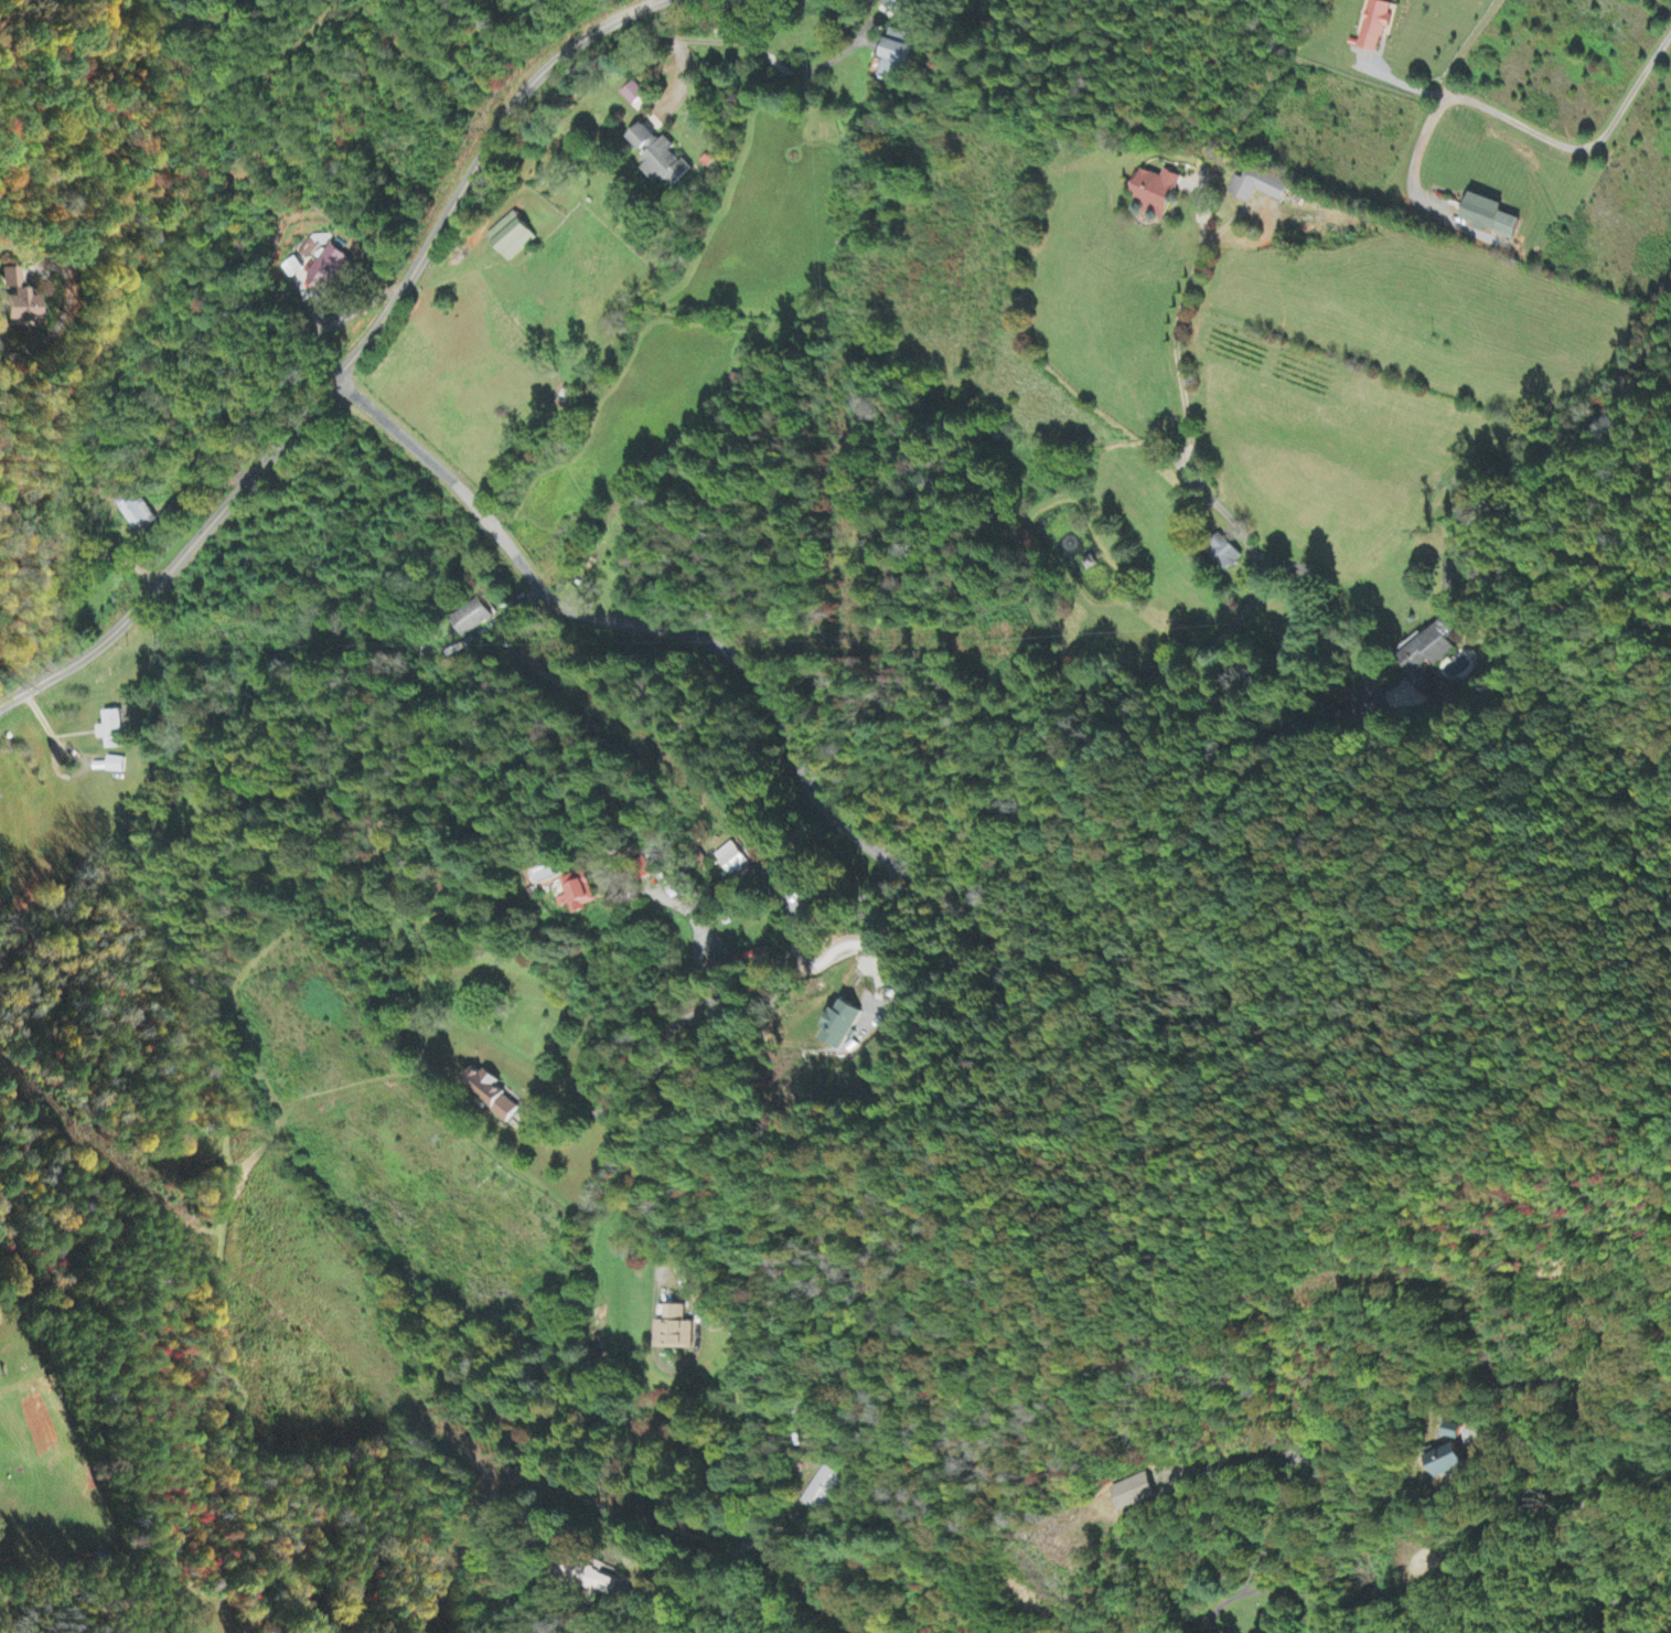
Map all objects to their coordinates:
park: (244, 6)
building: (889, 9)
building: (1374, 28)
road: (1468, 44)
building: (892, 60)
building: (632, 94)
road: (1583, 148)
building: (658, 159)
building: (1258, 188)
building: (1157, 193)
building: (1490, 218)
building: (511, 238)
building: (306, 249)
building: (290, 268)
building: (325, 270)
building: (19, 300)
road: (345, 363)
road: (431, 461)
building: (136, 513)
building: (1223, 554)
building: (1089, 564)
building: (470, 620)
building: (1427, 655)
road: (741, 665)
building: (110, 730)
road: (1048, 743)
building: (114, 766)
building: (733, 860)
building: (577, 894)
road: (722, 925)
building: (839, 1025)
road: (636, 1074)
building: (488, 1093)
road: (647, 1132)
building: (674, 1331)
building: (1454, 1432)
road: (1596, 1437)
building: (1449, 1462)
building: (822, 1490)
building: (1134, 1493)
road: (722, 1559)
building: (598, 1579)
road: (1225, 1599)

